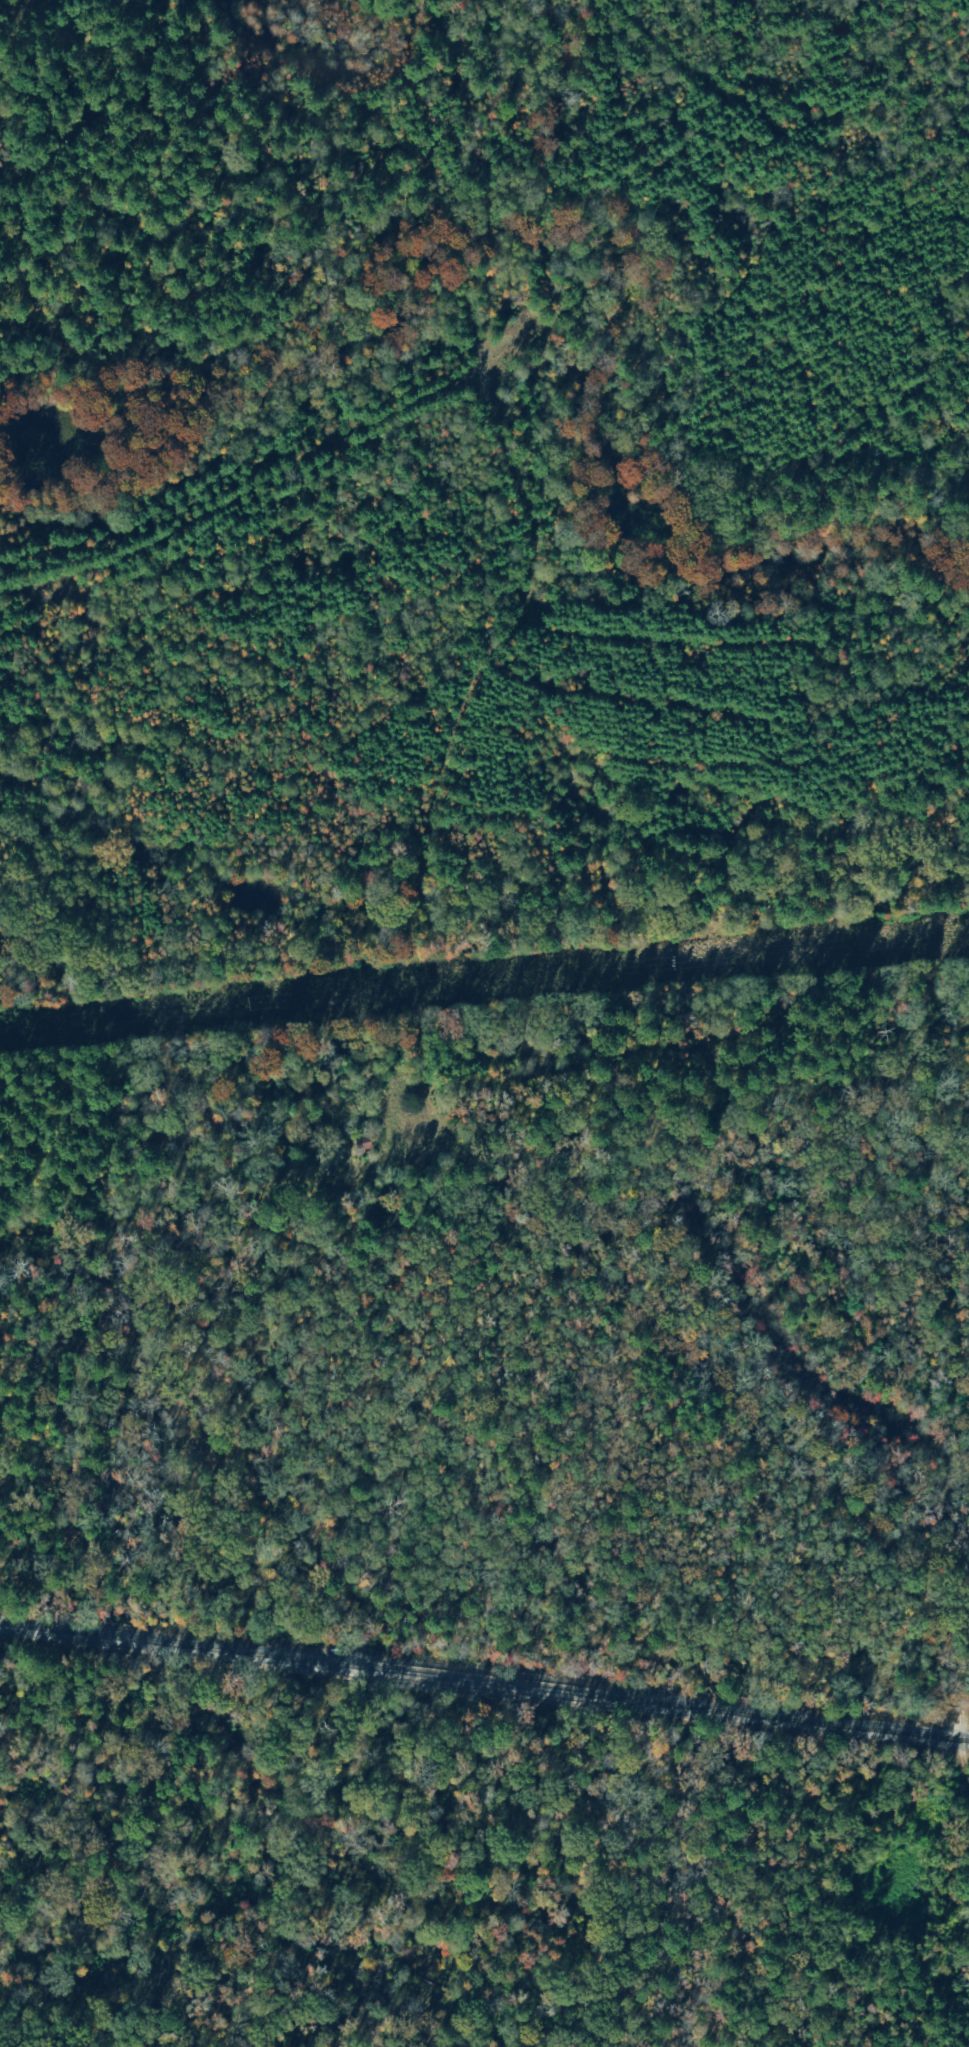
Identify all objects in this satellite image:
power tower: (675, 964)
road: (851, 1447)
railway: (484, 1681)

